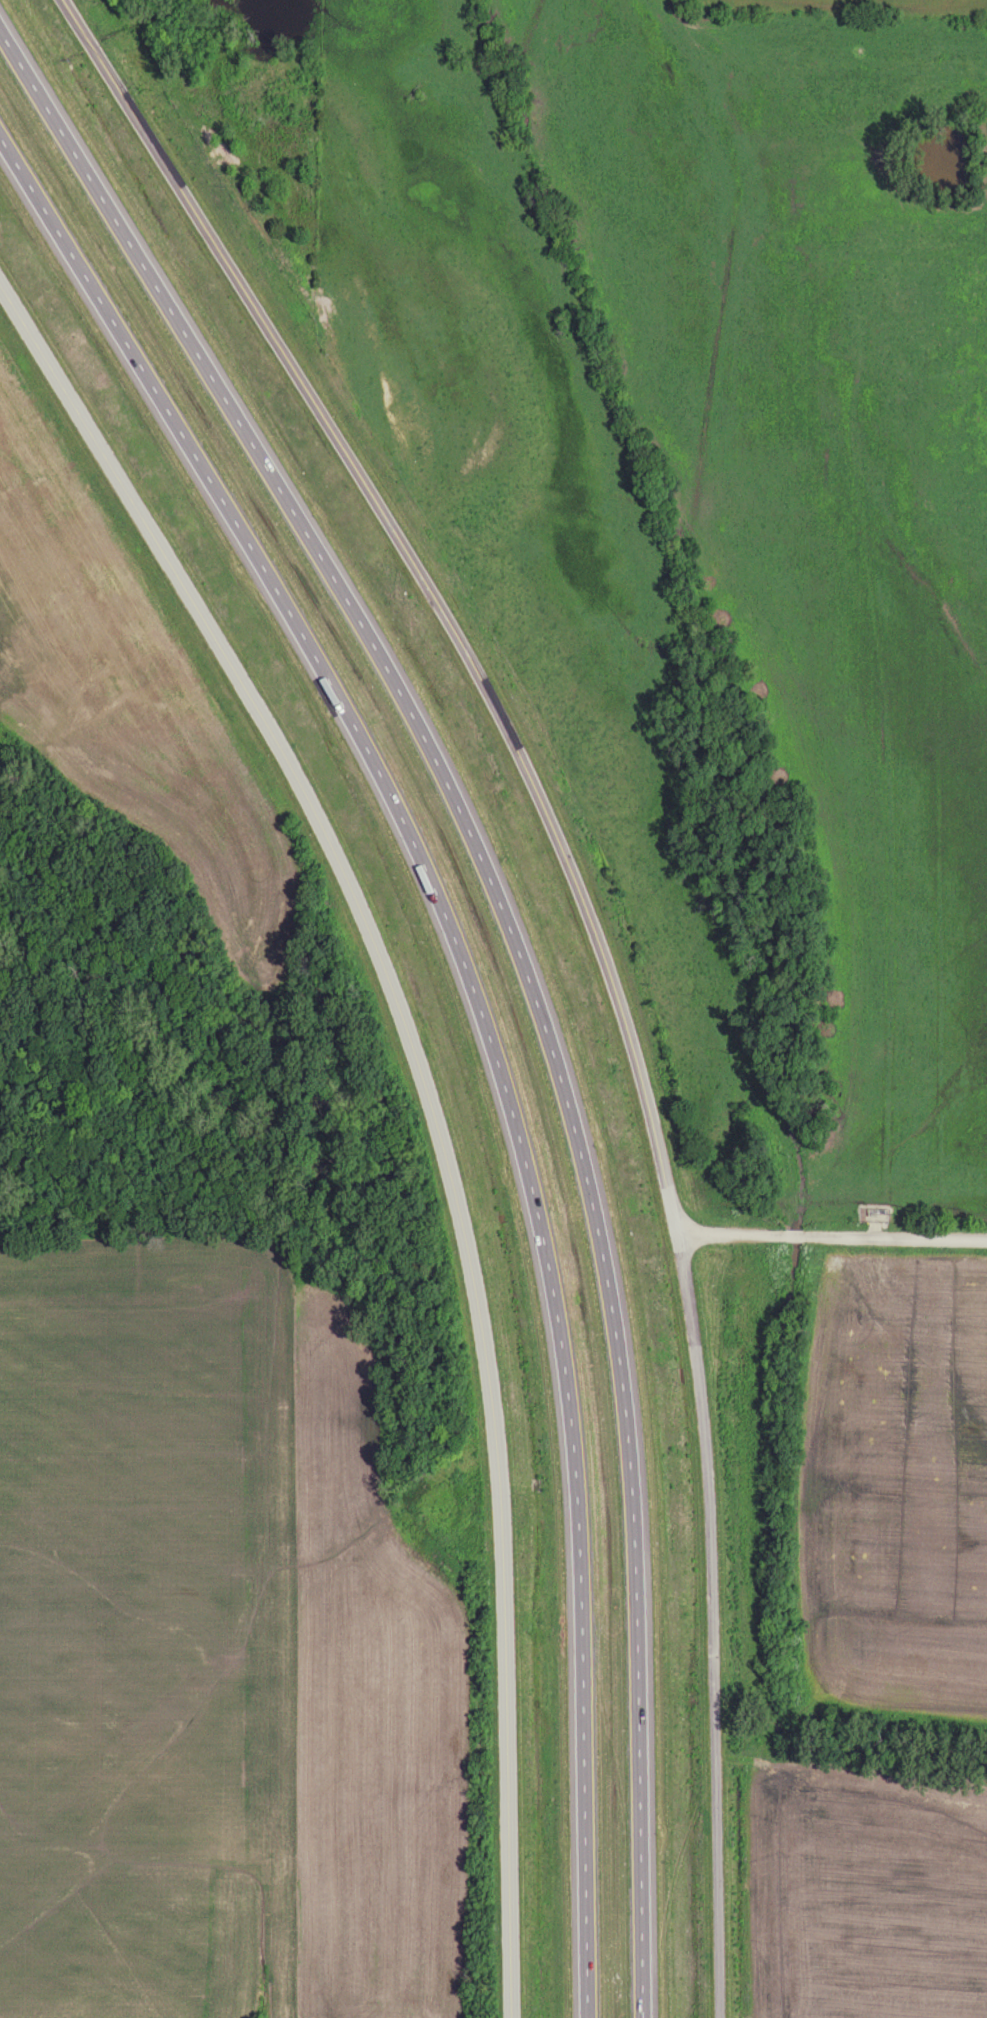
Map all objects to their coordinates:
road: (597, 944)
road: (525, 961)
road: (483, 1021)
road: (432, 1099)
road: (833, 1240)

